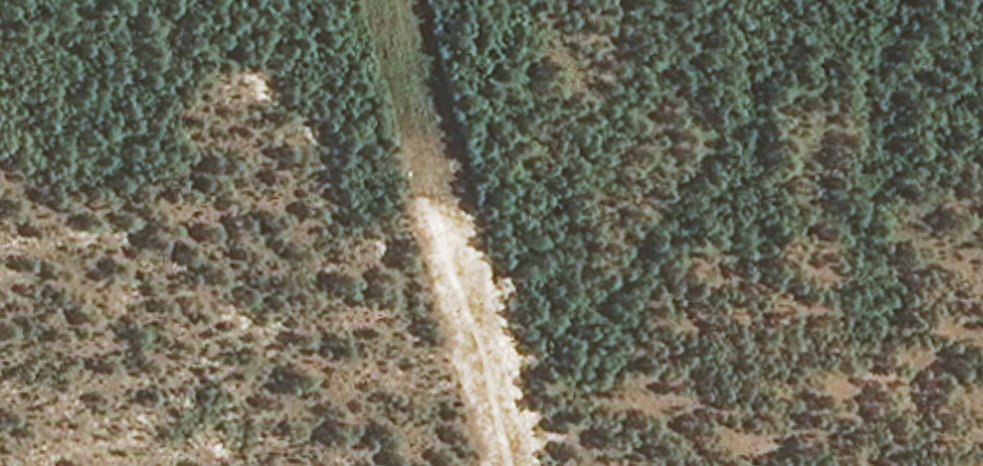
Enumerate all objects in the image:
power tower: (439, 194)
road: (36, 377)

